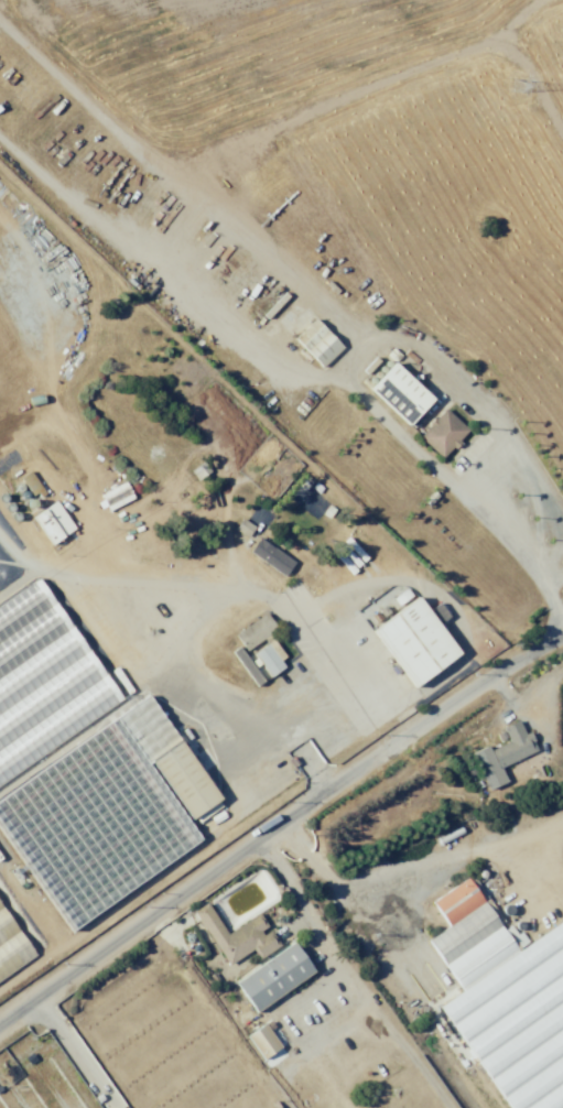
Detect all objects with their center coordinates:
power tower: (518, 88)
building: (321, 344)
building: (401, 391)
road: (263, 398)
building: (445, 433)
building: (50, 526)
building: (273, 557)
building: (4, 575)
building: (258, 632)
building: (420, 641)
building: (271, 661)
building: (45, 681)
building: (516, 745)
building: (188, 781)
road: (279, 827)
building: (85, 836)
building: (239, 936)
building: (12, 949)
building: (277, 977)
building: (506, 998)
building: (267, 1046)
building: (313, 1086)
building: (272, 1107)

